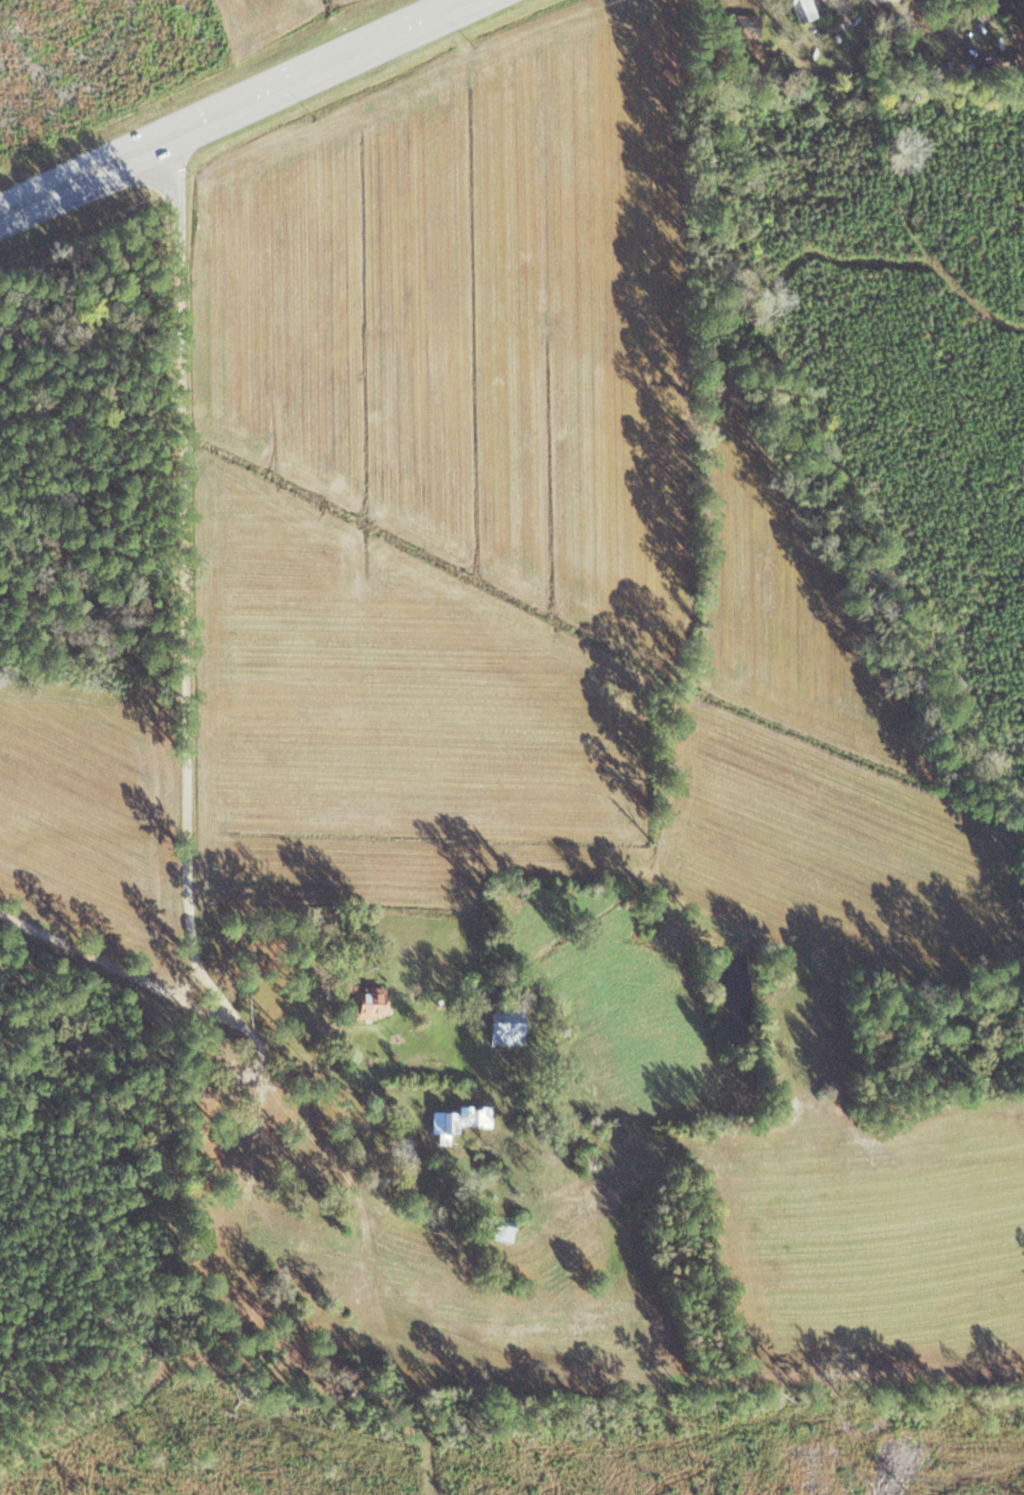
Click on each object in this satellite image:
building: (807, 9)
road: (235, 112)
road: (183, 570)
road: (98, 957)
building: (371, 1002)
building: (509, 1025)
building: (454, 1120)
building: (585, 1158)
building: (505, 1228)
road: (522, 1357)

